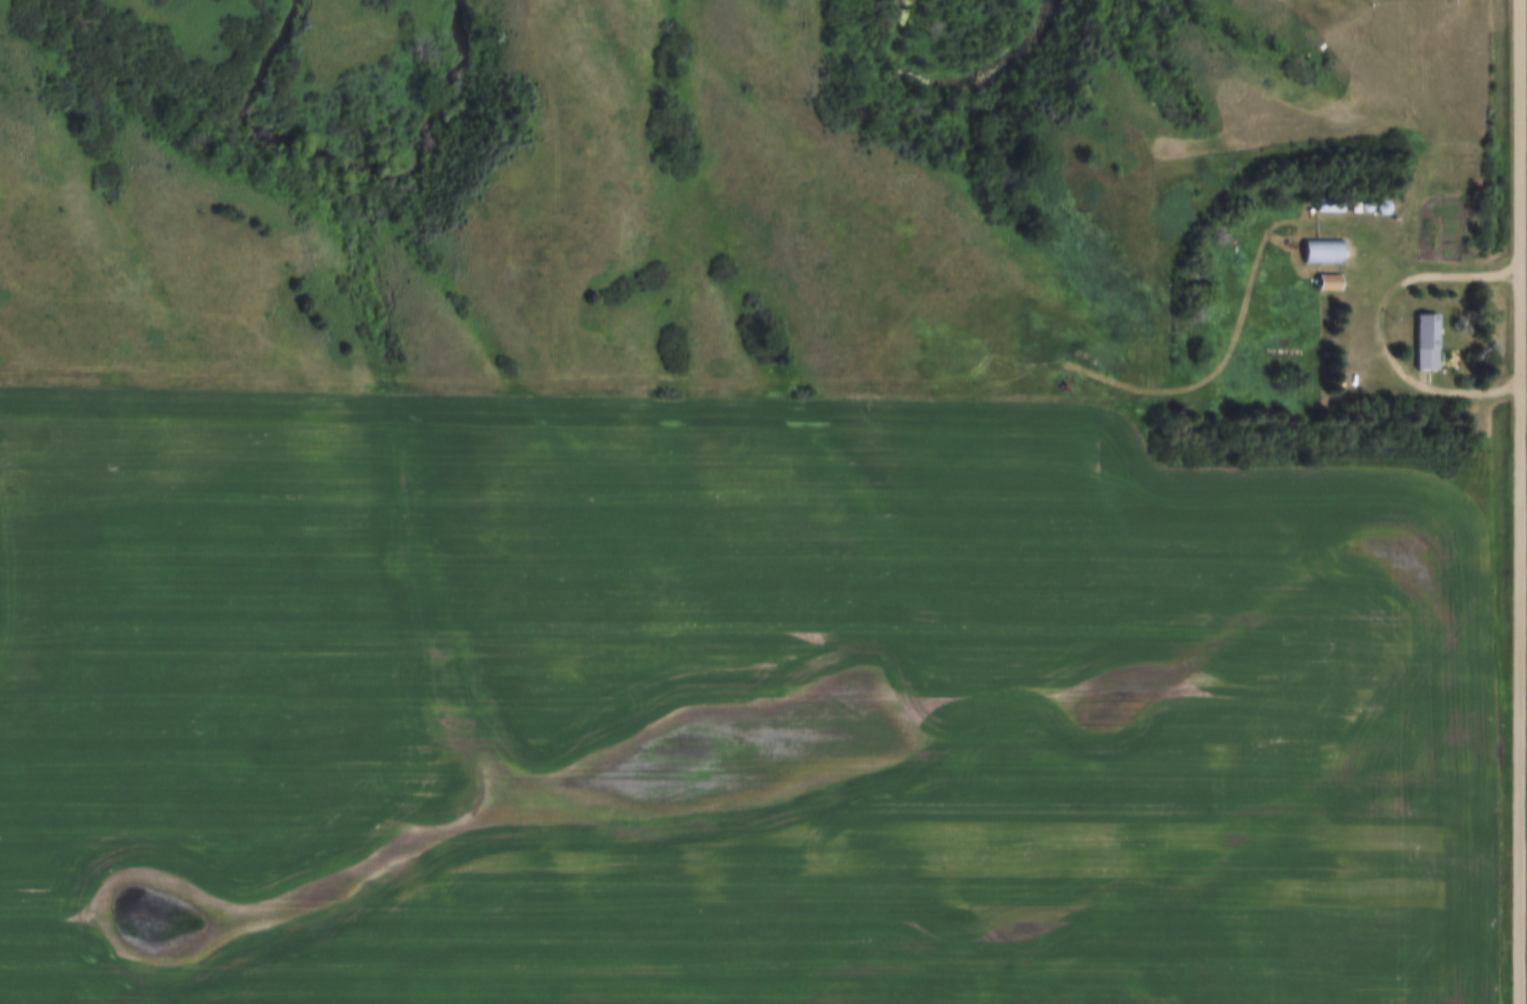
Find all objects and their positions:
building: (1326, 254)
building: (1333, 285)
road: (1384, 328)
building: (1430, 345)
road: (1522, 501)

